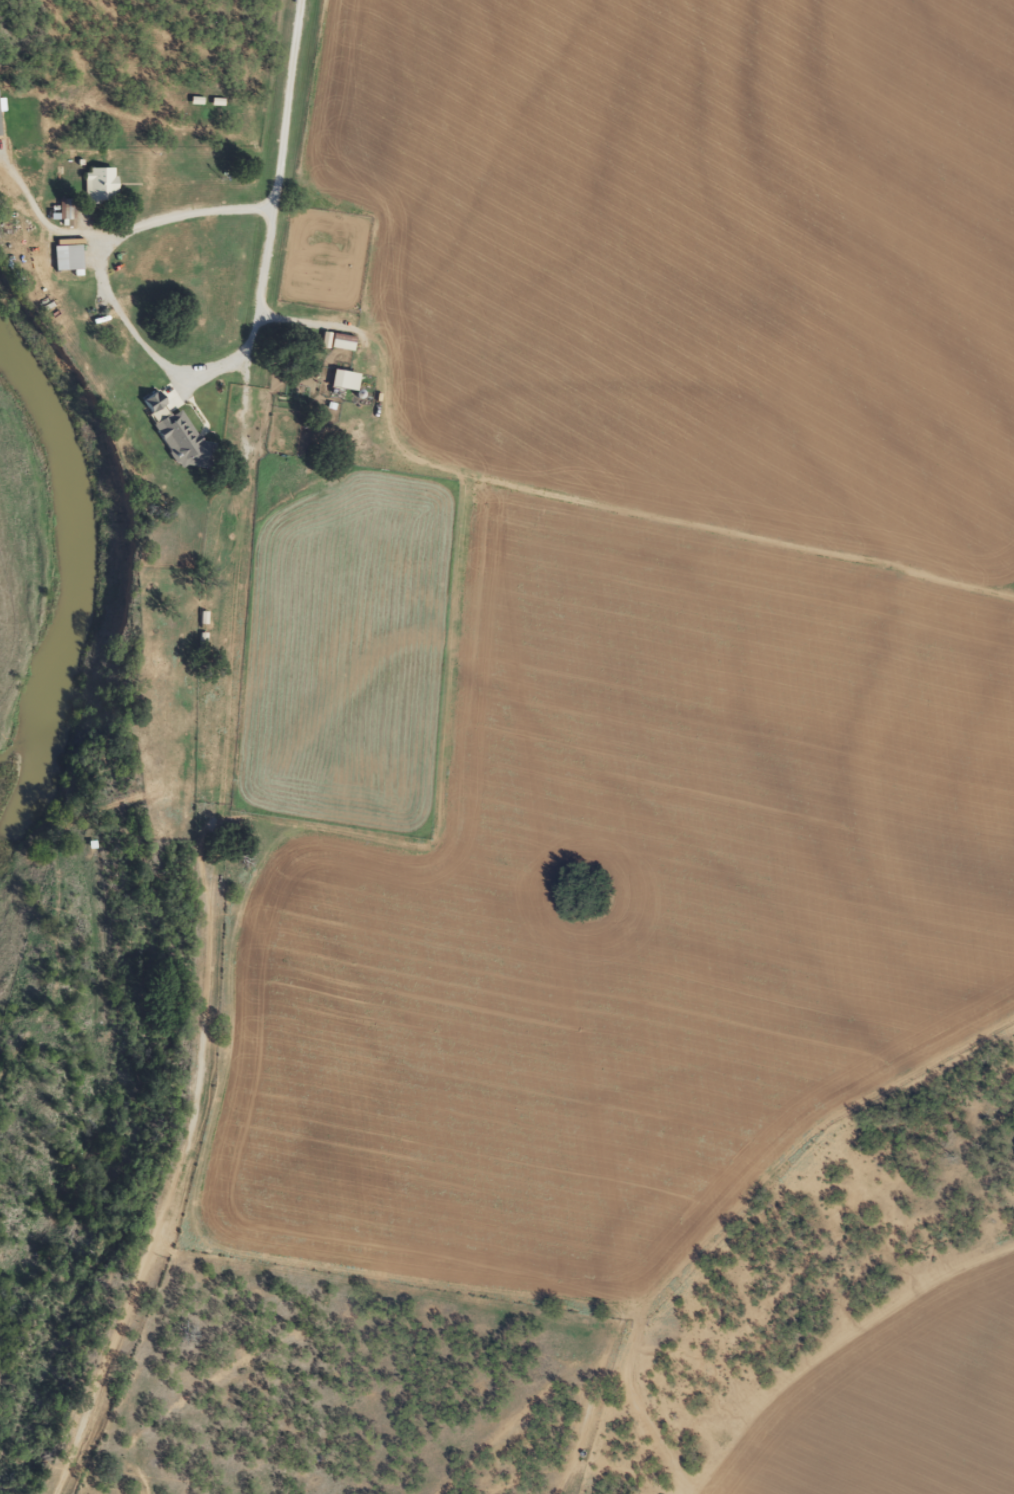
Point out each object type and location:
building: (102, 183)
building: (66, 211)
building: (71, 257)
building: (342, 343)
building: (347, 379)
building: (156, 400)
building: (187, 442)
river: (70, 560)
road: (268, 765)

